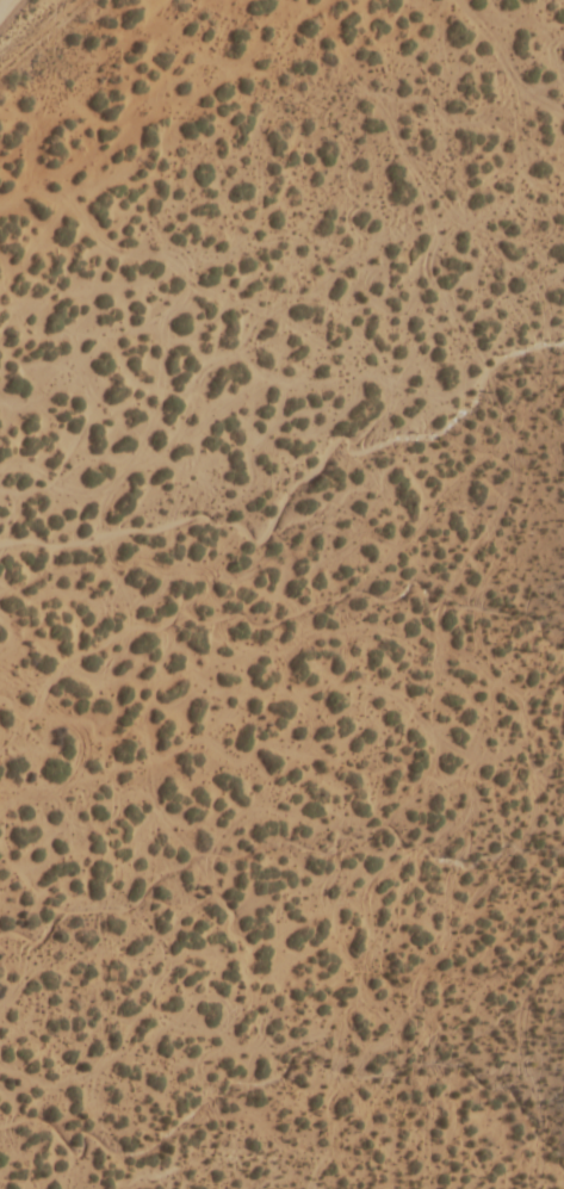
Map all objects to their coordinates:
road: (4, 4)

